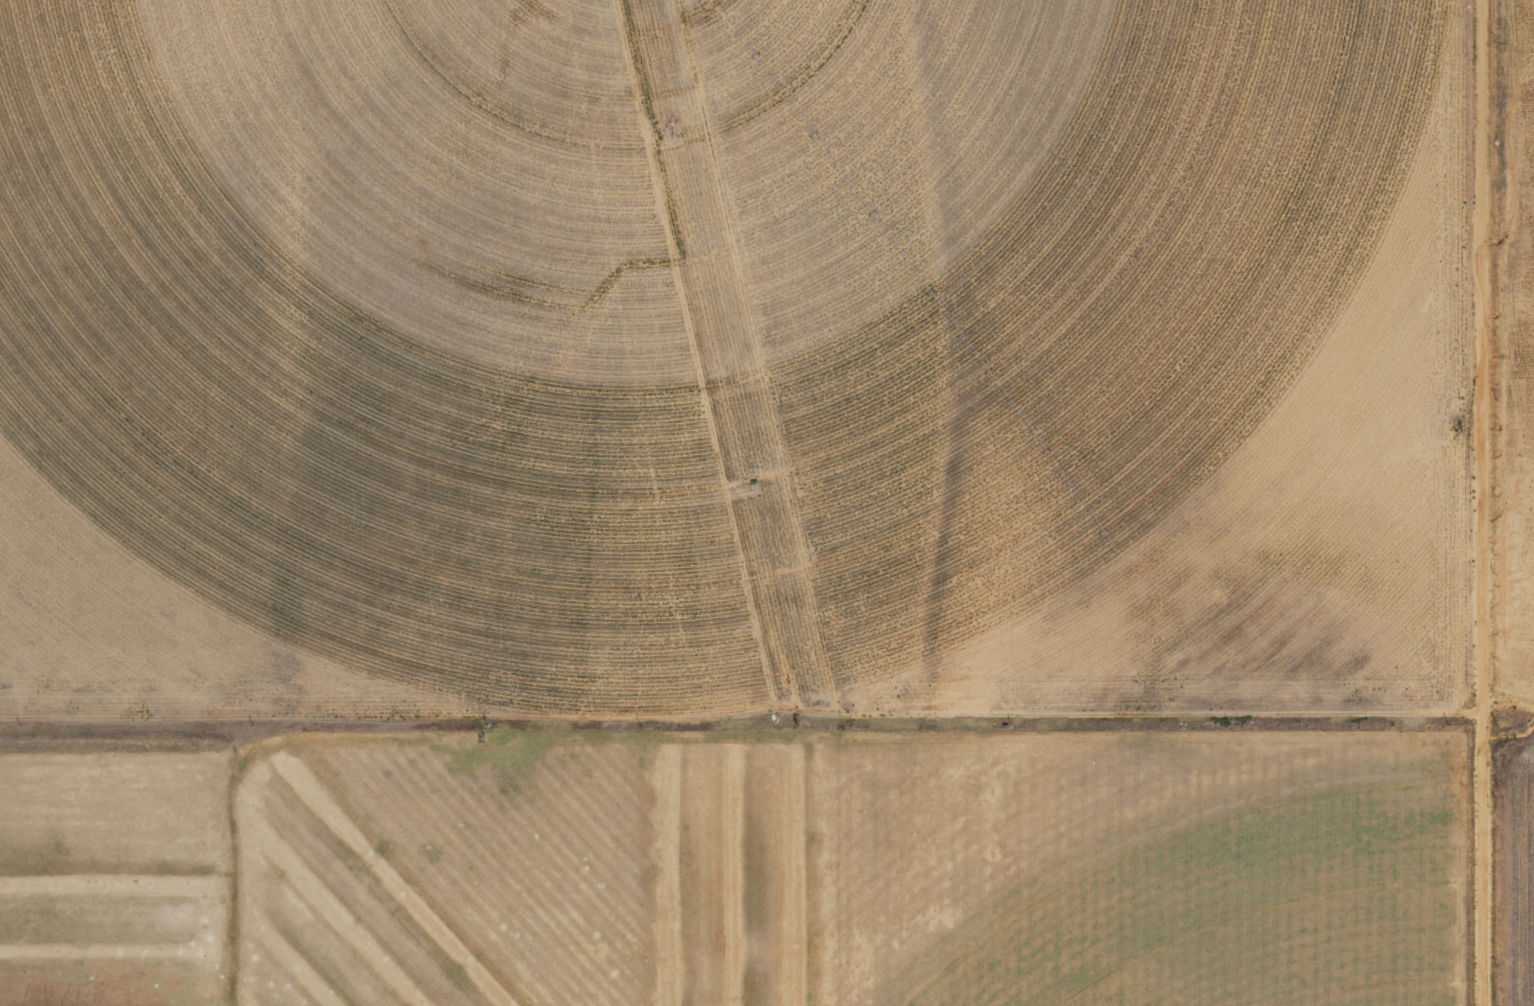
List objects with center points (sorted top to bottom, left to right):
road: (1485, 502)

